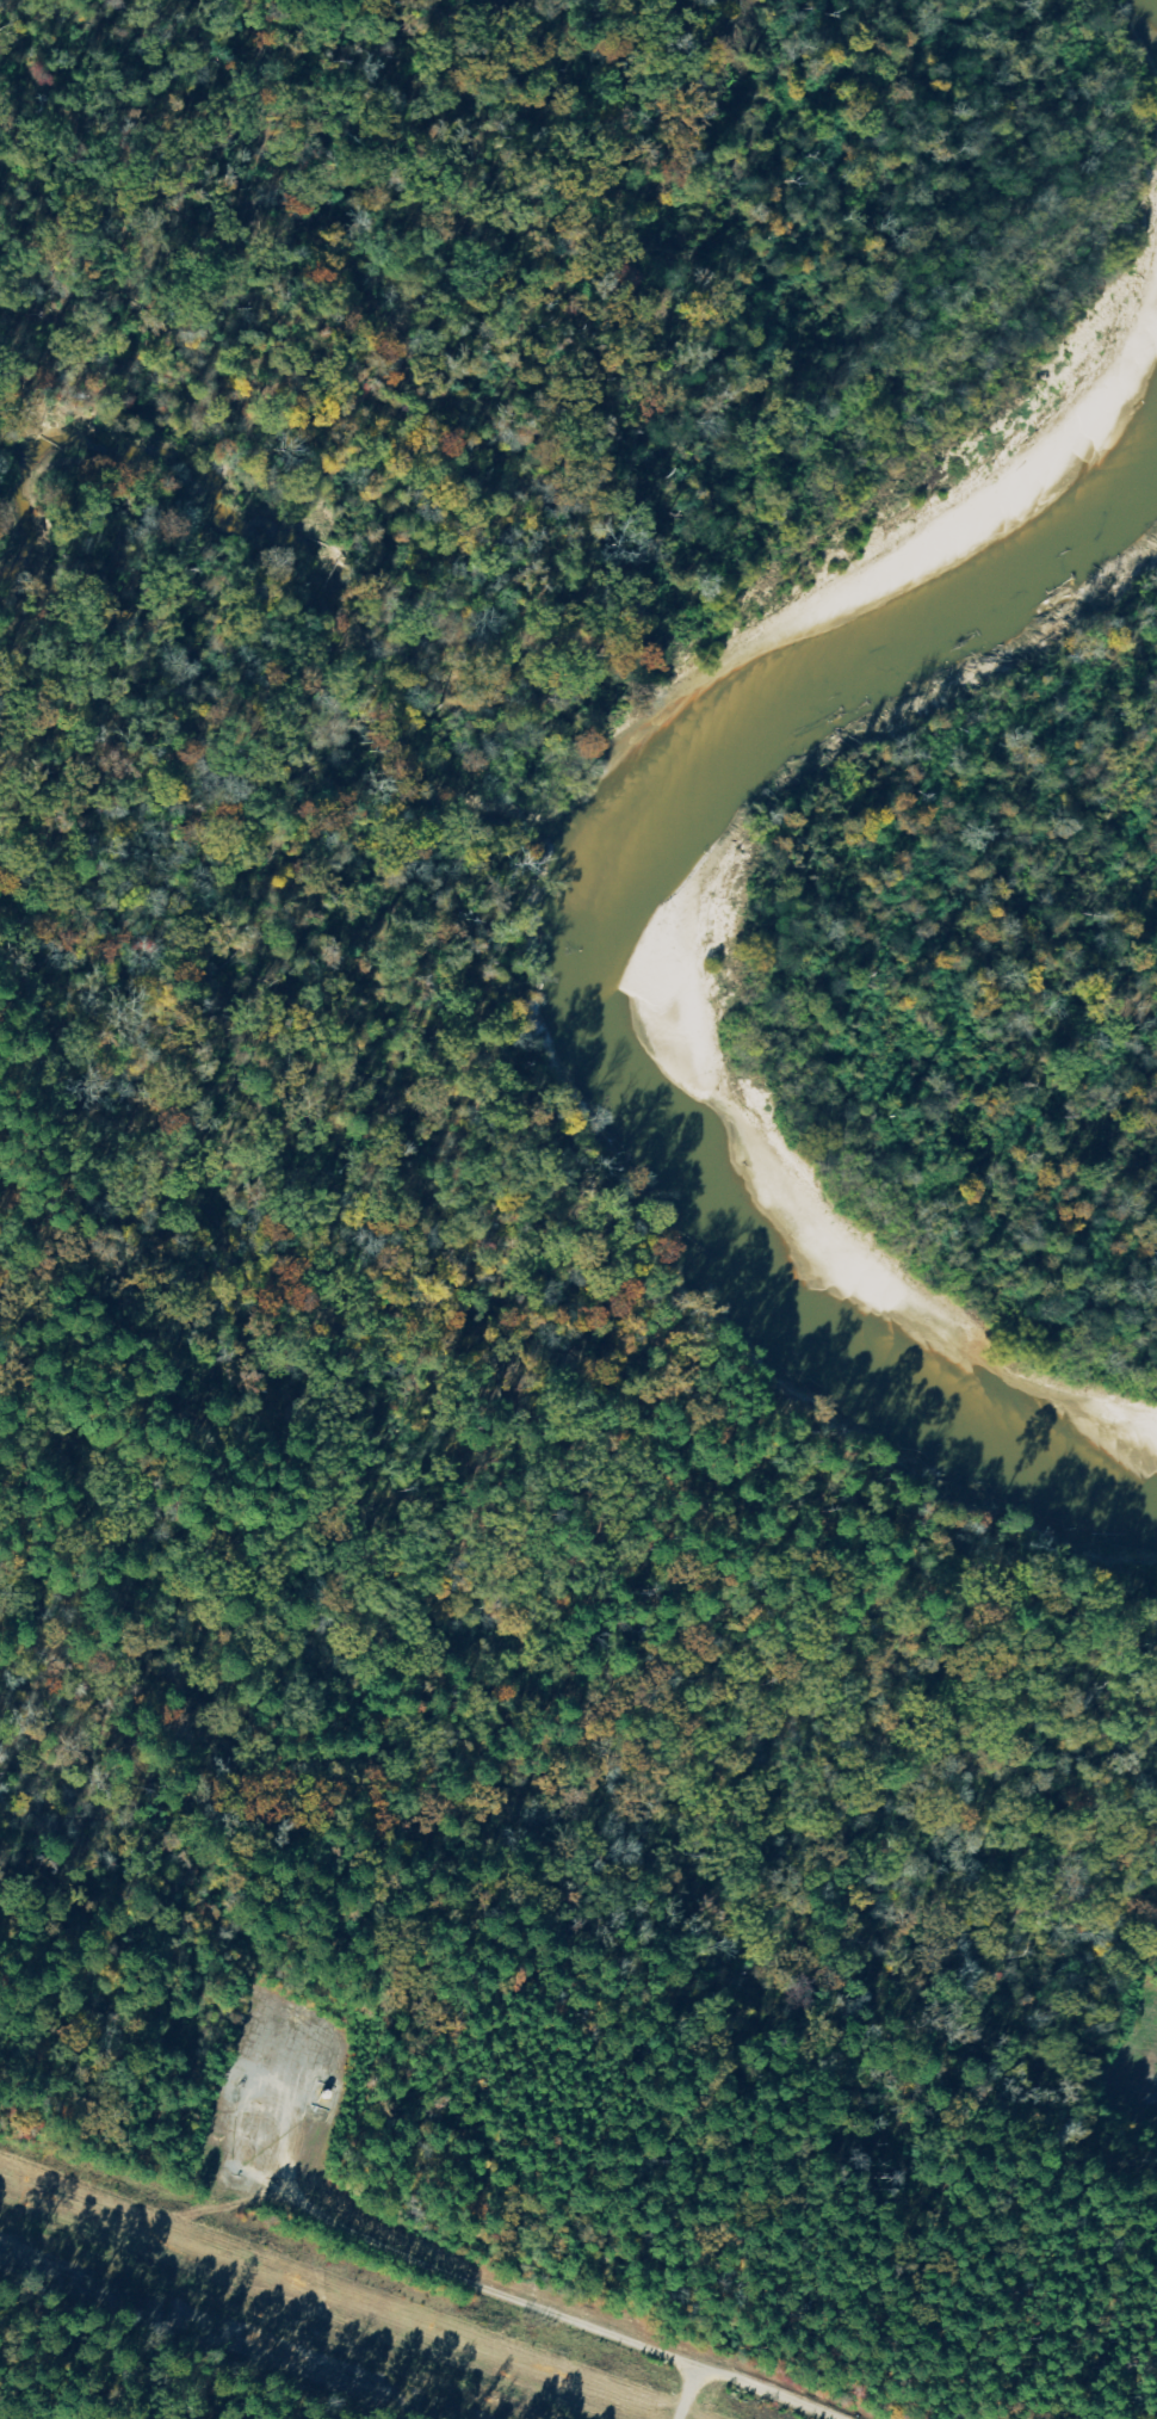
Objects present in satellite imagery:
river: (682, 921)

